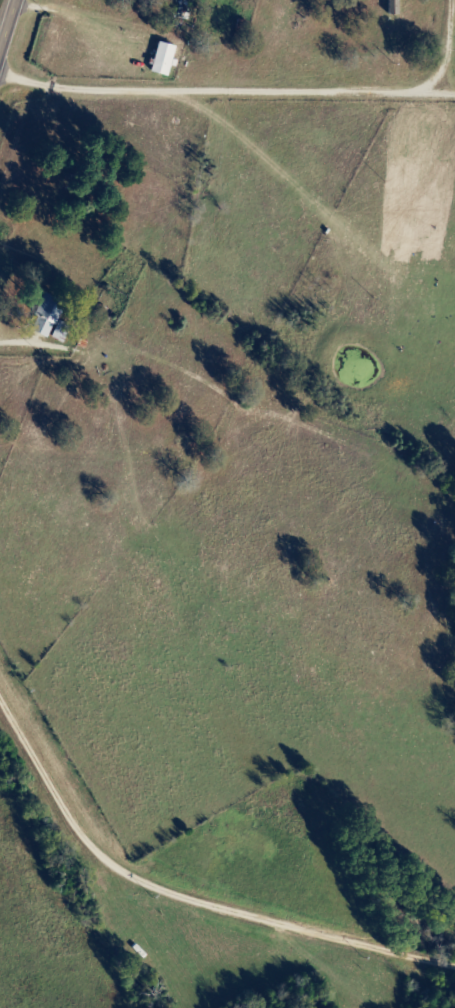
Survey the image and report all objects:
road: (7, 23)
building: (165, 60)
building: (48, 317)
building: (62, 332)
road: (205, 876)

